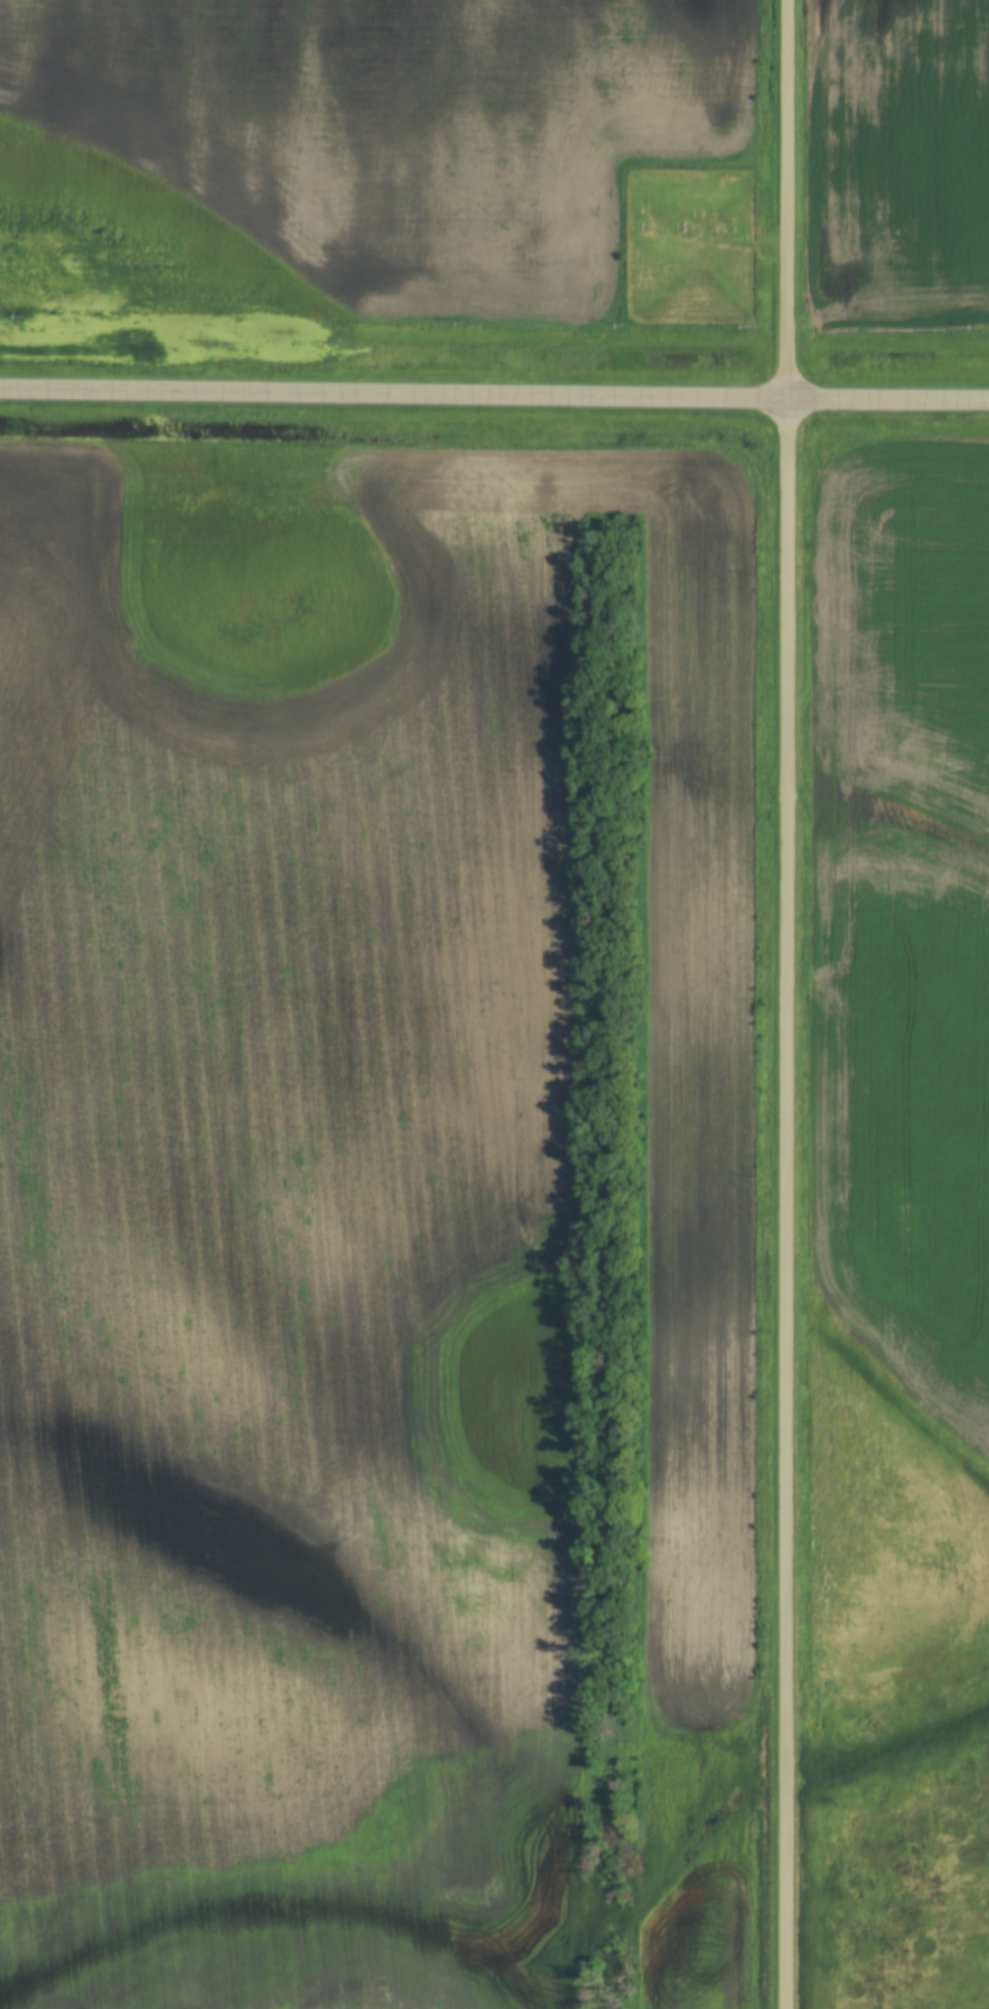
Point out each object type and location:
crop: (898, 164)
road: (494, 395)
road: (788, 1004)
crop: (897, 1056)
crop: (343, 1185)
crop: (70, 1981)
crop: (721, 1998)

